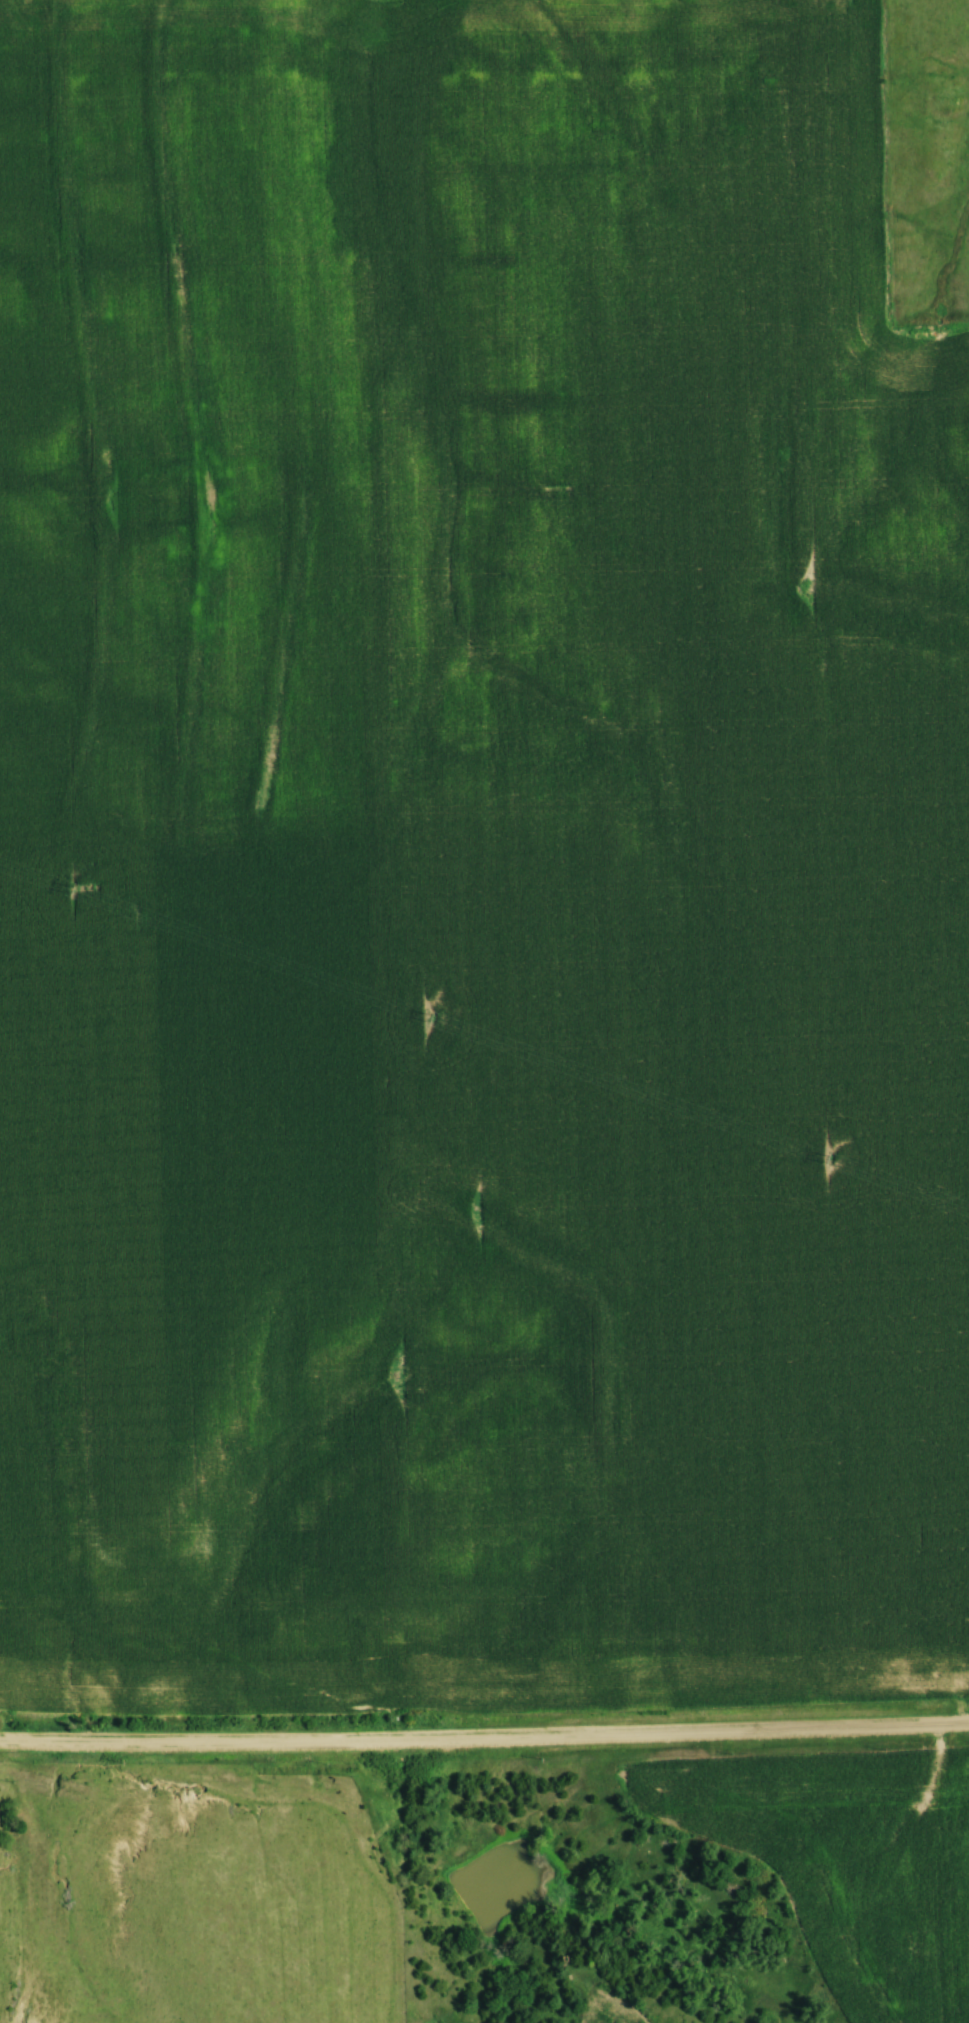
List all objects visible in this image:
road: (484, 1728)

